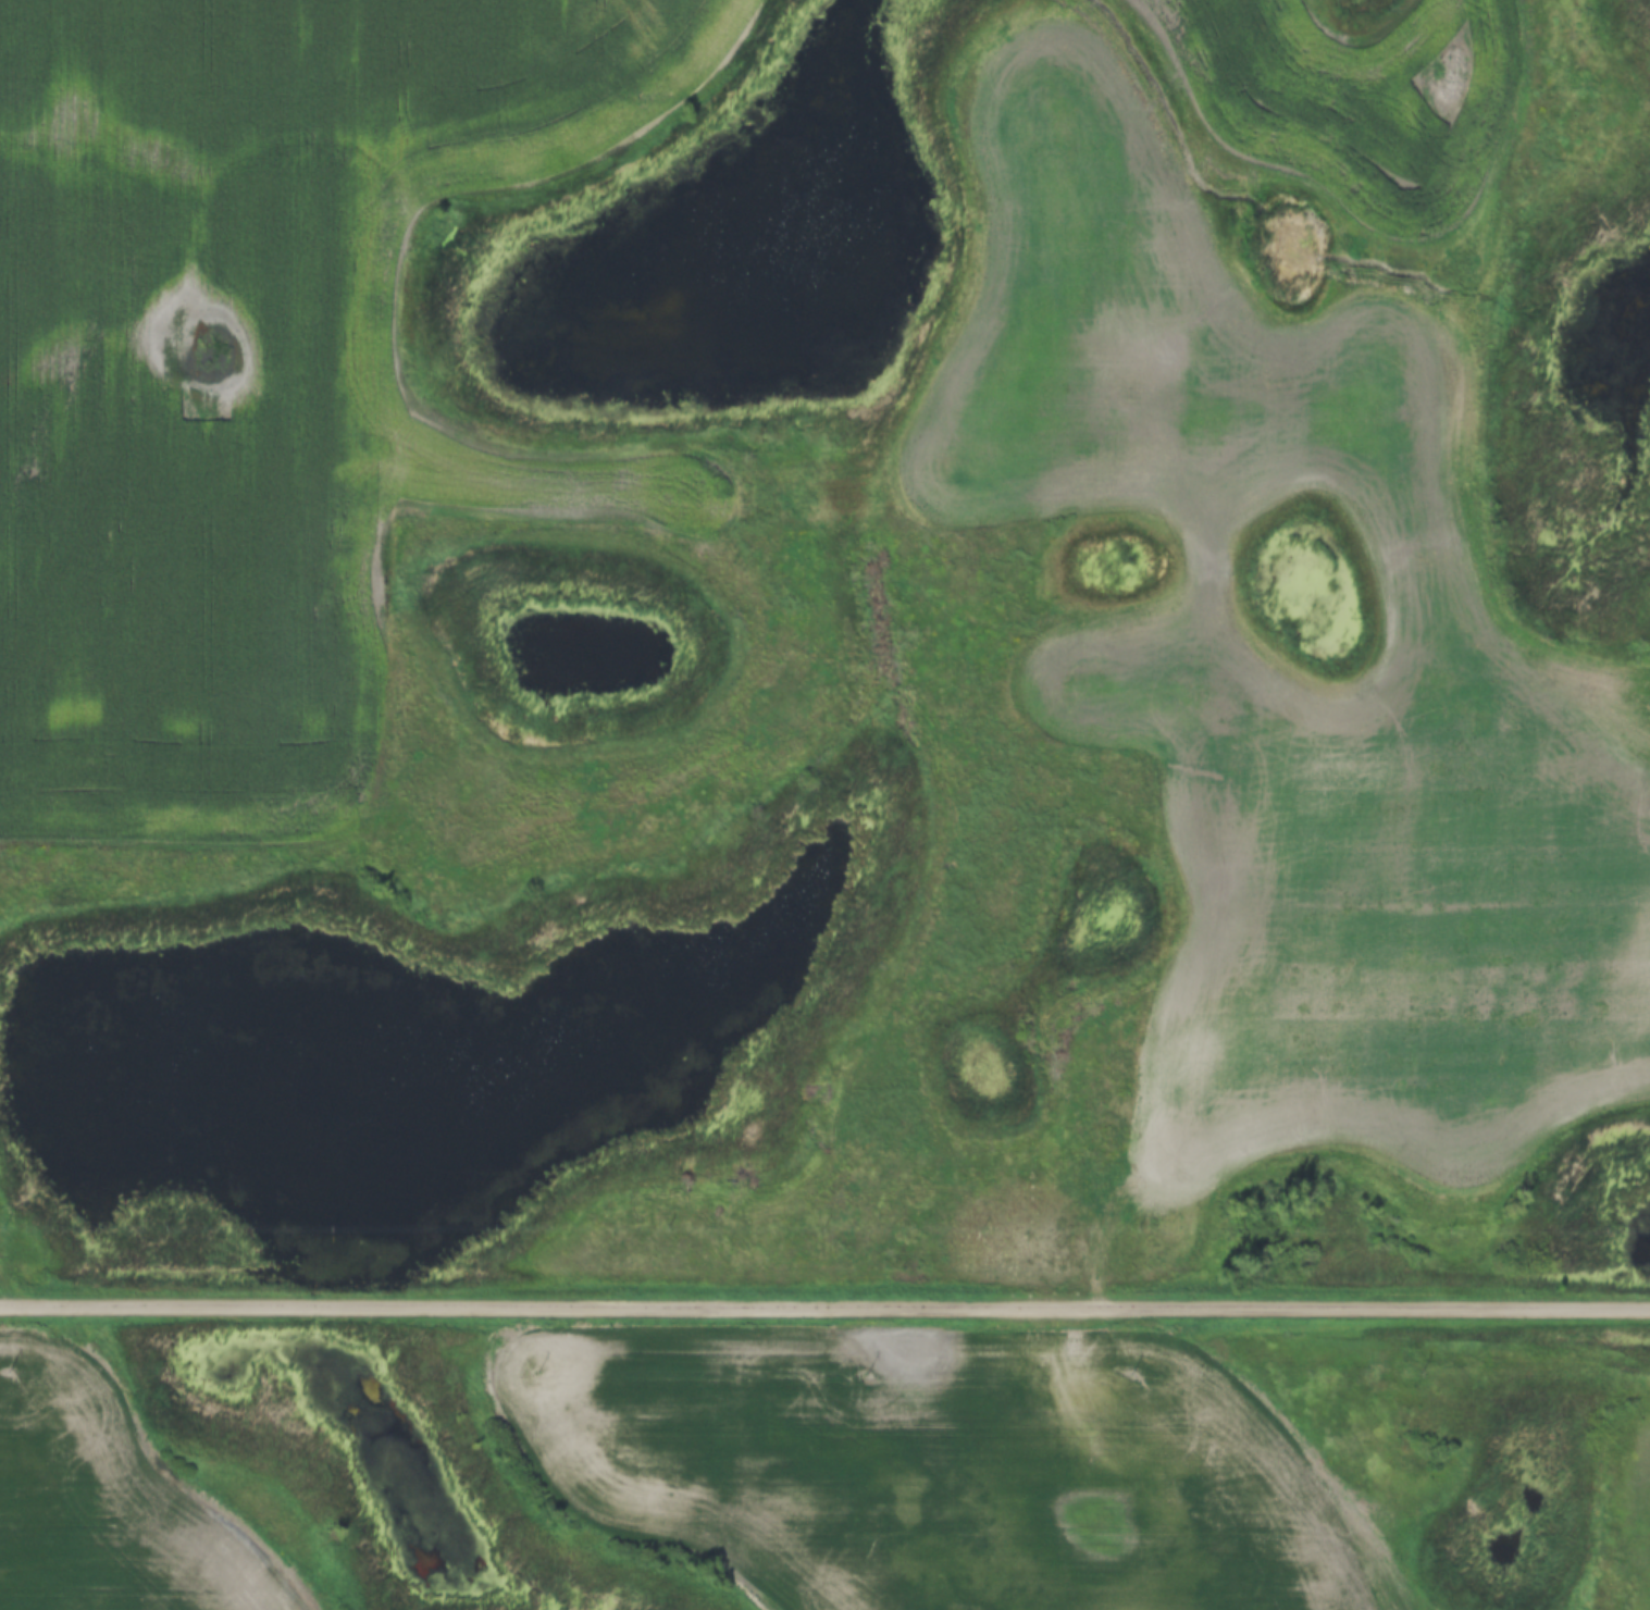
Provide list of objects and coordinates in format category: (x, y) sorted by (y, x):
road: (824, 1310)

